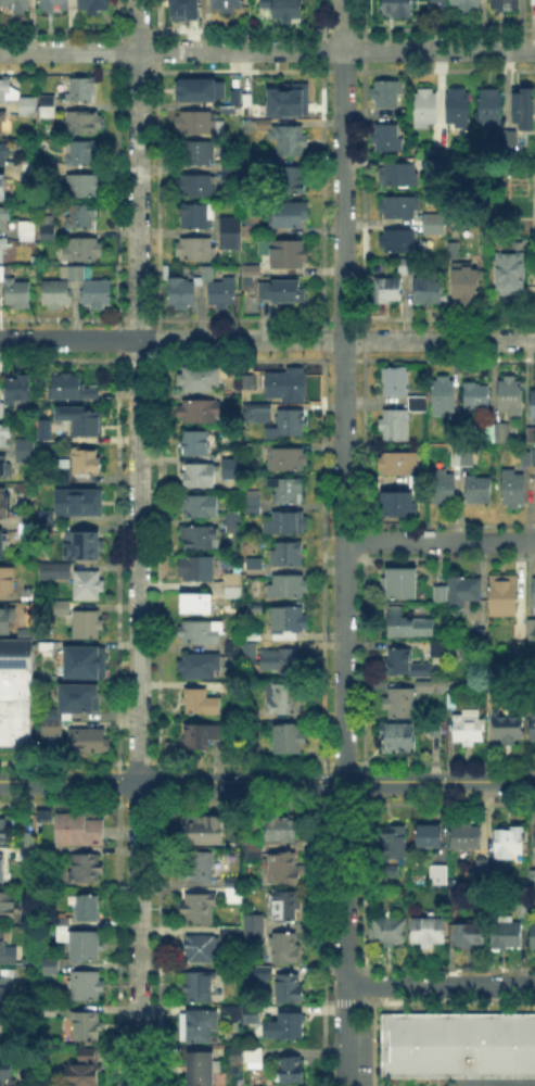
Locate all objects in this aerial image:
building: (438, 1)
building: (533, 1)
building: (54, 4)
building: (468, 4)
building: (94, 5)
building: (228, 5)
building: (16, 7)
building: (498, 7)
building: (397, 8)
building: (182, 10)
building: (288, 10)
road: (267, 50)
building: (5, 91)
building: (82, 91)
building: (195, 91)
building: (388, 94)
building: (47, 99)
building: (290, 101)
building: (247, 104)
building: (27, 106)
building: (491, 108)
building: (425, 109)
building: (525, 109)
building: (458, 110)
building: (230, 111)
building: (48, 112)
building: (200, 123)
building: (84, 124)
building: (2, 125)
building: (502, 138)
building: (512, 138)
building: (285, 139)
building: (386, 139)
building: (199, 153)
building: (82, 154)
building: (4, 157)
building: (232, 169)
building: (399, 175)
building: (293, 182)
building: (85, 186)
building: (196, 186)
building: (2, 187)
building: (400, 206)
building: (199, 215)
building: (290, 215)
building: (3, 217)
building: (82, 217)
building: (254, 219)
building: (434, 220)
building: (26, 227)
building: (49, 229)
building: (432, 229)
building: (251, 231)
building: (263, 231)
building: (231, 233)
building: (27, 237)
building: (402, 242)
building: (3, 249)
building: (198, 249)
building: (82, 250)
building: (453, 250)
building: (251, 255)
building: (288, 255)
building: (408, 266)
building: (252, 270)
building: (77, 271)
building: (206, 273)
building: (511, 273)
building: (2, 274)
building: (467, 283)
building: (387, 290)
building: (429, 291)
building: (282, 292)
building: (17, 294)
building: (56, 294)
building: (180, 294)
building: (222, 294)
building: (97, 295)
road: (267, 340)
building: (245, 380)
building: (394, 380)
building: (200, 381)
building: (250, 382)
building: (288, 386)
building: (18, 390)
building: (73, 390)
building: (444, 395)
building: (511, 395)
building: (476, 397)
building: (417, 403)
building: (534, 405)
building: (1, 408)
building: (201, 412)
building: (257, 413)
building: (80, 420)
building: (292, 424)
building: (395, 425)
building: (498, 434)
building: (4, 437)
building: (532, 437)
building: (40, 440)
building: (196, 443)
building: (253, 446)
building: (26, 452)
building: (462, 455)
building: (528, 457)
building: (534, 457)
building: (286, 459)
building: (62, 463)
building: (87, 463)
building: (398, 463)
building: (4, 467)
building: (212, 473)
building: (63, 475)
building: (445, 489)
building: (289, 490)
building: (480, 491)
building: (514, 492)
building: (534, 493)
building: (76, 502)
building: (255, 502)
building: (399, 504)
building: (5, 506)
building: (201, 506)
building: (46, 516)
building: (234, 522)
building: (285, 523)
building: (26, 526)
building: (201, 538)
road: (138, 542)
road: (440, 542)
road: (344, 543)
building: (1, 545)
building: (87, 547)
building: (289, 555)
building: (199, 570)
building: (56, 571)
building: (8, 582)
building: (402, 584)
building: (89, 586)
building: (235, 588)
building: (466, 591)
building: (441, 594)
building: (533, 594)
building: (28, 595)
building: (504, 595)
building: (201, 606)
building: (290, 606)
building: (62, 611)
building: (7, 621)
building: (408, 624)
building: (88, 626)
building: (533, 630)
building: (25, 632)
building: (202, 632)
building: (521, 632)
building: (232, 651)
building: (442, 651)
building: (251, 654)
building: (279, 660)
building: (84, 664)
building: (408, 665)
building: (201, 667)
building: (498, 672)
building: (422, 684)
building: (425, 690)
building: (15, 691)
building: (79, 699)
building: (284, 699)
building: (450, 700)
building: (201, 702)
building: (402, 704)
building: (50, 716)
building: (533, 725)
building: (509, 728)
building: (53, 730)
building: (436, 730)
building: (469, 731)
building: (204, 736)
building: (290, 738)
building: (89, 742)
building: (397, 742)
road: (267, 781)
building: (48, 817)
building: (282, 829)
building: (204, 830)
building: (4, 831)
building: (79, 831)
building: (430, 837)
building: (29, 838)
building: (466, 839)
building: (394, 841)
building: (534, 841)
building: (254, 845)
building: (510, 846)
building: (27, 854)
building: (482, 861)
building: (201, 866)
building: (86, 868)
building: (2, 869)
building: (283, 869)
building: (390, 871)
building: (438, 874)
building: (532, 876)
building: (499, 879)
building: (233, 886)
building: (455, 894)
building: (9, 907)
building: (284, 907)
building: (89, 909)
building: (200, 909)
building: (522, 910)
building: (65, 921)
building: (256, 926)
building: (231, 931)
building: (63, 932)
building: (387, 932)
building: (429, 932)
building: (469, 937)
building: (509, 937)
building: (534, 937)
building: (87, 947)
building: (285, 947)
building: (201, 949)
building: (7, 951)
building: (51, 965)
building: (265, 970)
building: (9, 974)
building: (87, 987)
building: (201, 987)
road: (440, 987)
building: (5, 988)
building: (291, 989)
building: (47, 1007)
flagpole: (396, 1007)
building: (232, 1012)
building: (253, 1015)
building: (88, 1025)
building: (200, 1026)
building: (286, 1026)
building: (458, 1044)
building: (235, 1056)
building: (254, 1059)
building: (290, 1068)
building: (84, 1069)
building: (201, 1070)
building: (7, 1073)

